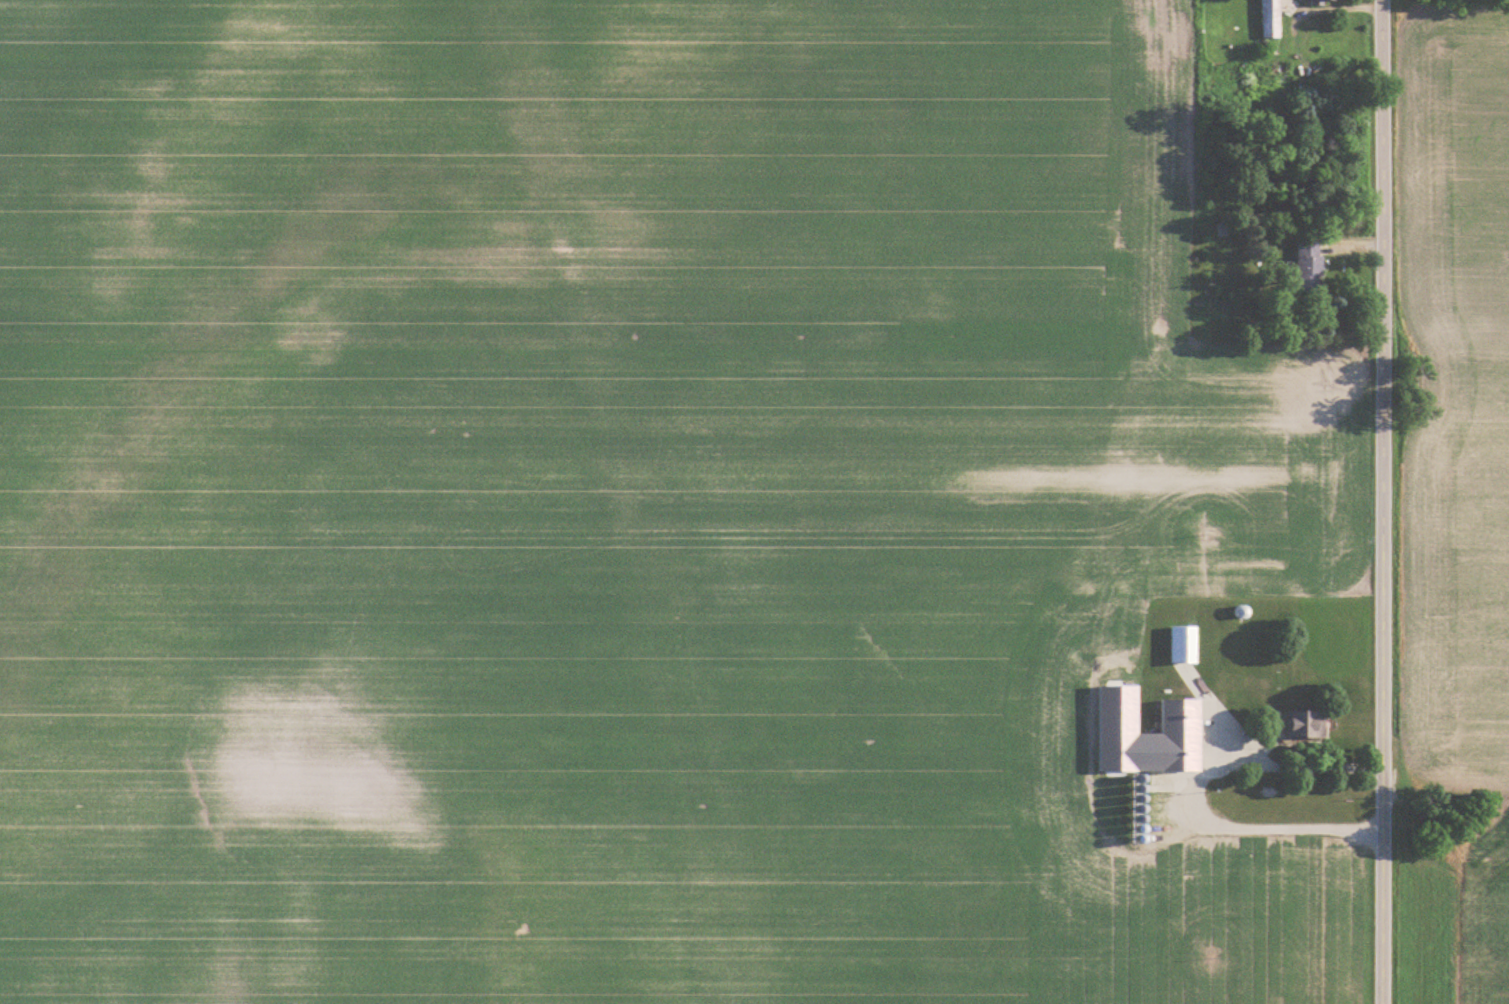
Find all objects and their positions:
building: (1323, 1)
building: (1270, 19)
building: (1310, 266)
road: (1381, 502)
building: (1184, 644)
building: (1307, 724)
building: (1181, 735)
road: (1179, 797)

